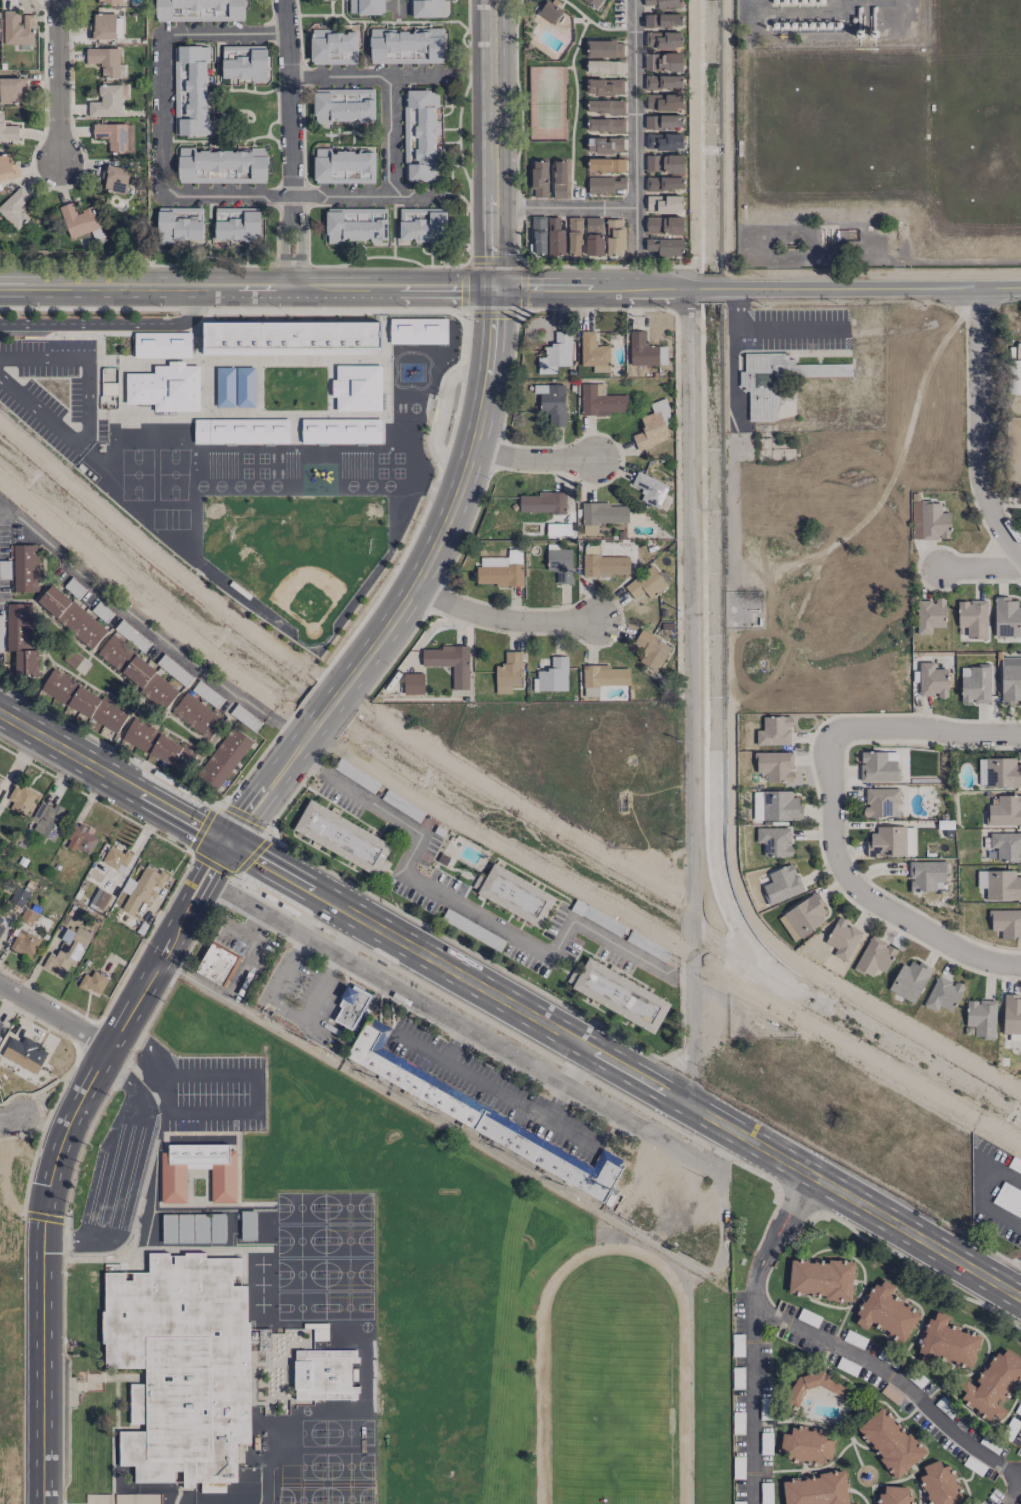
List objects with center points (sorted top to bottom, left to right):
building: (109, 1)
building: (592, 2)
building: (663, 3)
building: (365, 6)
building: (425, 8)
road: (397, 9)
building: (199, 10)
building: (550, 12)
building: (662, 19)
building: (102, 25)
building: (17, 27)
road: (225, 34)
building: (663, 39)
building: (406, 45)
building: (333, 46)
building: (603, 48)
building: (107, 60)
building: (244, 61)
building: (663, 61)
building: (605, 66)
road: (367, 76)
building: (663, 81)
road: (58, 83)
building: (605, 86)
building: (10, 89)
building: (190, 89)
building: (107, 100)
building: (664, 101)
building: (344, 105)
building: (604, 106)
building: (663, 121)
building: (605, 124)
road: (636, 127)
building: (8, 130)
building: (420, 134)
building: (115, 136)
road: (391, 136)
building: (663, 141)
road: (493, 142)
road: (291, 143)
building: (605, 144)
road: (693, 144)
road: (725, 144)
building: (605, 164)
building: (221, 165)
building: (344, 166)
building: (6, 167)
building: (665, 172)
building: (114, 178)
building: (539, 178)
building: (559, 179)
road: (161, 180)
building: (606, 184)
road: (371, 196)
building: (664, 203)
road: (565, 207)
building: (15, 208)
building: (78, 219)
building: (179, 223)
building: (237, 224)
building: (356, 224)
building: (422, 224)
building: (574, 233)
building: (664, 234)
building: (548, 235)
building: (594, 235)
building: (614, 236)
road: (519, 260)
traffic signals: (496, 285)
road: (248, 287)
road: (758, 288)
road: (110, 324)
building: (417, 329)
road: (767, 332)
building: (292, 339)
building: (161, 345)
building: (645, 350)
building: (556, 353)
building: (594, 353)
building: (773, 380)
building: (167, 388)
building: (358, 388)
parking lot: (50, 393)
building: (600, 400)
building: (553, 406)
road: (85, 411)
road: (981, 424)
building: (652, 425)
building: (342, 430)
building: (241, 432)
road: (536, 461)
building: (650, 488)
building: (542, 502)
road: (688, 504)
building: (600, 514)
building: (930, 521)
road: (441, 534)
park: (294, 552)
road: (167, 561)
building: (602, 562)
building: (560, 564)
building: (26, 567)
road: (980, 568)
building: (501, 569)
building: (646, 583)
road: (153, 607)
building: (930, 615)
building: (71, 616)
building: (973, 617)
building: (1007, 617)
road: (501, 618)
road: (149, 625)
building: (21, 637)
building: (652, 649)
building: (72, 658)
building: (449, 662)
building: (137, 671)
building: (508, 672)
building: (554, 675)
building: (602, 677)
building: (1010, 679)
building: (932, 680)
building: (413, 683)
building: (86, 701)
building: (197, 715)
road: (924, 729)
building: (774, 730)
building: (159, 745)
building: (224, 757)
building: (775, 765)
building: (878, 767)
road: (113, 777)
building: (0, 779)
road: (262, 795)
building: (20, 799)
building: (881, 802)
building: (776, 805)
road: (225, 806)
building: (1005, 810)
building: (47, 820)
building: (343, 837)
building: (80, 838)
building: (774, 840)
building: (892, 840)
traffic signals: (227, 842)
building: (1006, 845)
building: (116, 858)
building: (925, 875)
building: (782, 883)
building: (1000, 884)
building: (141, 888)
building: (514, 894)
road: (866, 895)
building: (19, 896)
building: (101, 898)
road: (690, 907)
road: (256, 908)
road: (466, 909)
building: (806, 913)
building: (28, 916)
building: (0, 917)
building: (1007, 922)
building: (1, 928)
building: (790, 929)
building: (843, 938)
building: (24, 943)
building: (67, 953)
building: (875, 956)
building: (216, 964)
building: (910, 979)
building: (93, 981)
road: (280, 982)
building: (943, 993)
building: (619, 994)
building: (350, 1006)
building: (1011, 1014)
road: (55, 1016)
building: (982, 1017)
building: (0, 1023)
road: (454, 1043)
building: (24, 1052)
road: (530, 1064)
road: (576, 1065)
road: (626, 1069)
road: (250, 1076)
road: (495, 1089)
road: (556, 1101)
building: (478, 1113)
road: (11, 1117)
road: (58, 1151)
road: (508, 1158)
road: (136, 1174)
building: (224, 1183)
road: (981, 1194)
building: (248, 1224)
building: (186, 1227)
building: (202, 1227)
building: (218, 1227)
building: (170, 1228)
road: (1, 1241)
building: (821, 1278)
road: (1011, 1281)
building: (886, 1311)
road: (756, 1336)
building: (947, 1342)
building: (206, 1365)
road: (898, 1377)
building: (993, 1384)
track: (615, 1385)
building: (890, 1442)
building: (805, 1445)
building: (940, 1483)
building: (817, 1489)
road: (1008, 1491)
building: (895, 1495)

